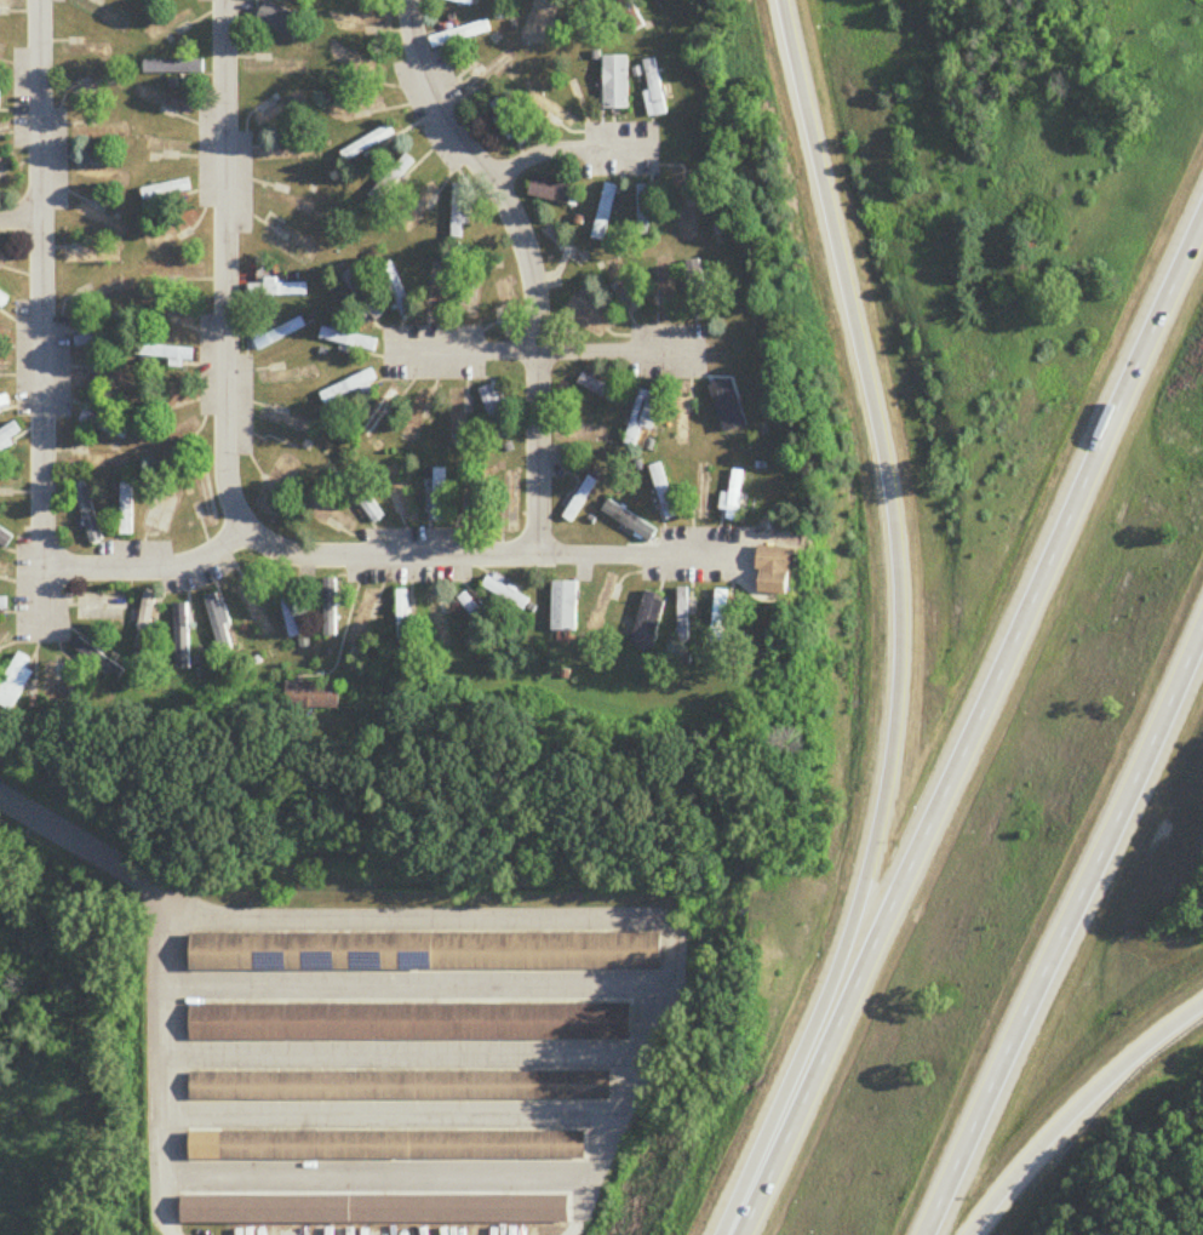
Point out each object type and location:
building: (464, 1)
building: (12, 5)
building: (502, 8)
building: (631, 15)
building: (280, 19)
building: (586, 21)
building: (459, 34)
building: (174, 67)
building: (615, 84)
building: (654, 88)
building: (0, 97)
building: (277, 109)
building: (551, 109)
building: (509, 122)
building: (368, 143)
road: (567, 151)
building: (286, 154)
building: (391, 179)
building: (166, 190)
building: (551, 191)
building: (458, 211)
building: (643, 211)
building: (605, 213)
road: (18, 217)
building: (171, 233)
building: (91, 258)
road: (528, 263)
road: (225, 265)
building: (624, 287)
building: (436, 290)
building: (277, 291)
building: (698, 291)
building: (395, 293)
building: (361, 297)
building: (2, 302)
road: (39, 319)
building: (280, 335)
building: (97, 338)
building: (348, 341)
road: (617, 353)
building: (167, 355)
road: (464, 355)
building: (286, 377)
building: (349, 388)
building: (597, 389)
building: (4, 405)
building: (732, 410)
building: (493, 412)
building: (380, 413)
building: (642, 417)
building: (682, 417)
building: (288, 423)
building: (103, 425)
building: (8, 435)
building: (663, 492)
building: (439, 496)
building: (362, 498)
building: (579, 499)
building: (734, 501)
building: (511, 502)
building: (126, 510)
building: (160, 513)
building: (629, 521)
road: (264, 539)
building: (4, 541)
road: (636, 556)
building: (4, 571)
building: (774, 571)
building: (506, 593)
building: (4, 605)
building: (470, 607)
building: (565, 607)
building: (330, 608)
building: (290, 613)
building: (402, 616)
building: (683, 616)
building: (721, 617)
building: (439, 621)
building: (648, 622)
building: (145, 623)
building: (219, 624)
road: (894, 627)
building: (182, 639)
building: (98, 661)
building: (16, 684)
building: (314, 697)
road: (972, 730)
road: (70, 840)
road: (1062, 927)
building: (425, 947)
road: (422, 979)
building: (411, 1017)
road: (409, 1054)
building: (405, 1084)
road: (630, 1104)
road: (1078, 1111)
building: (389, 1140)
road: (166, 1166)
road: (382, 1177)
road: (595, 1178)
building: (382, 1205)

